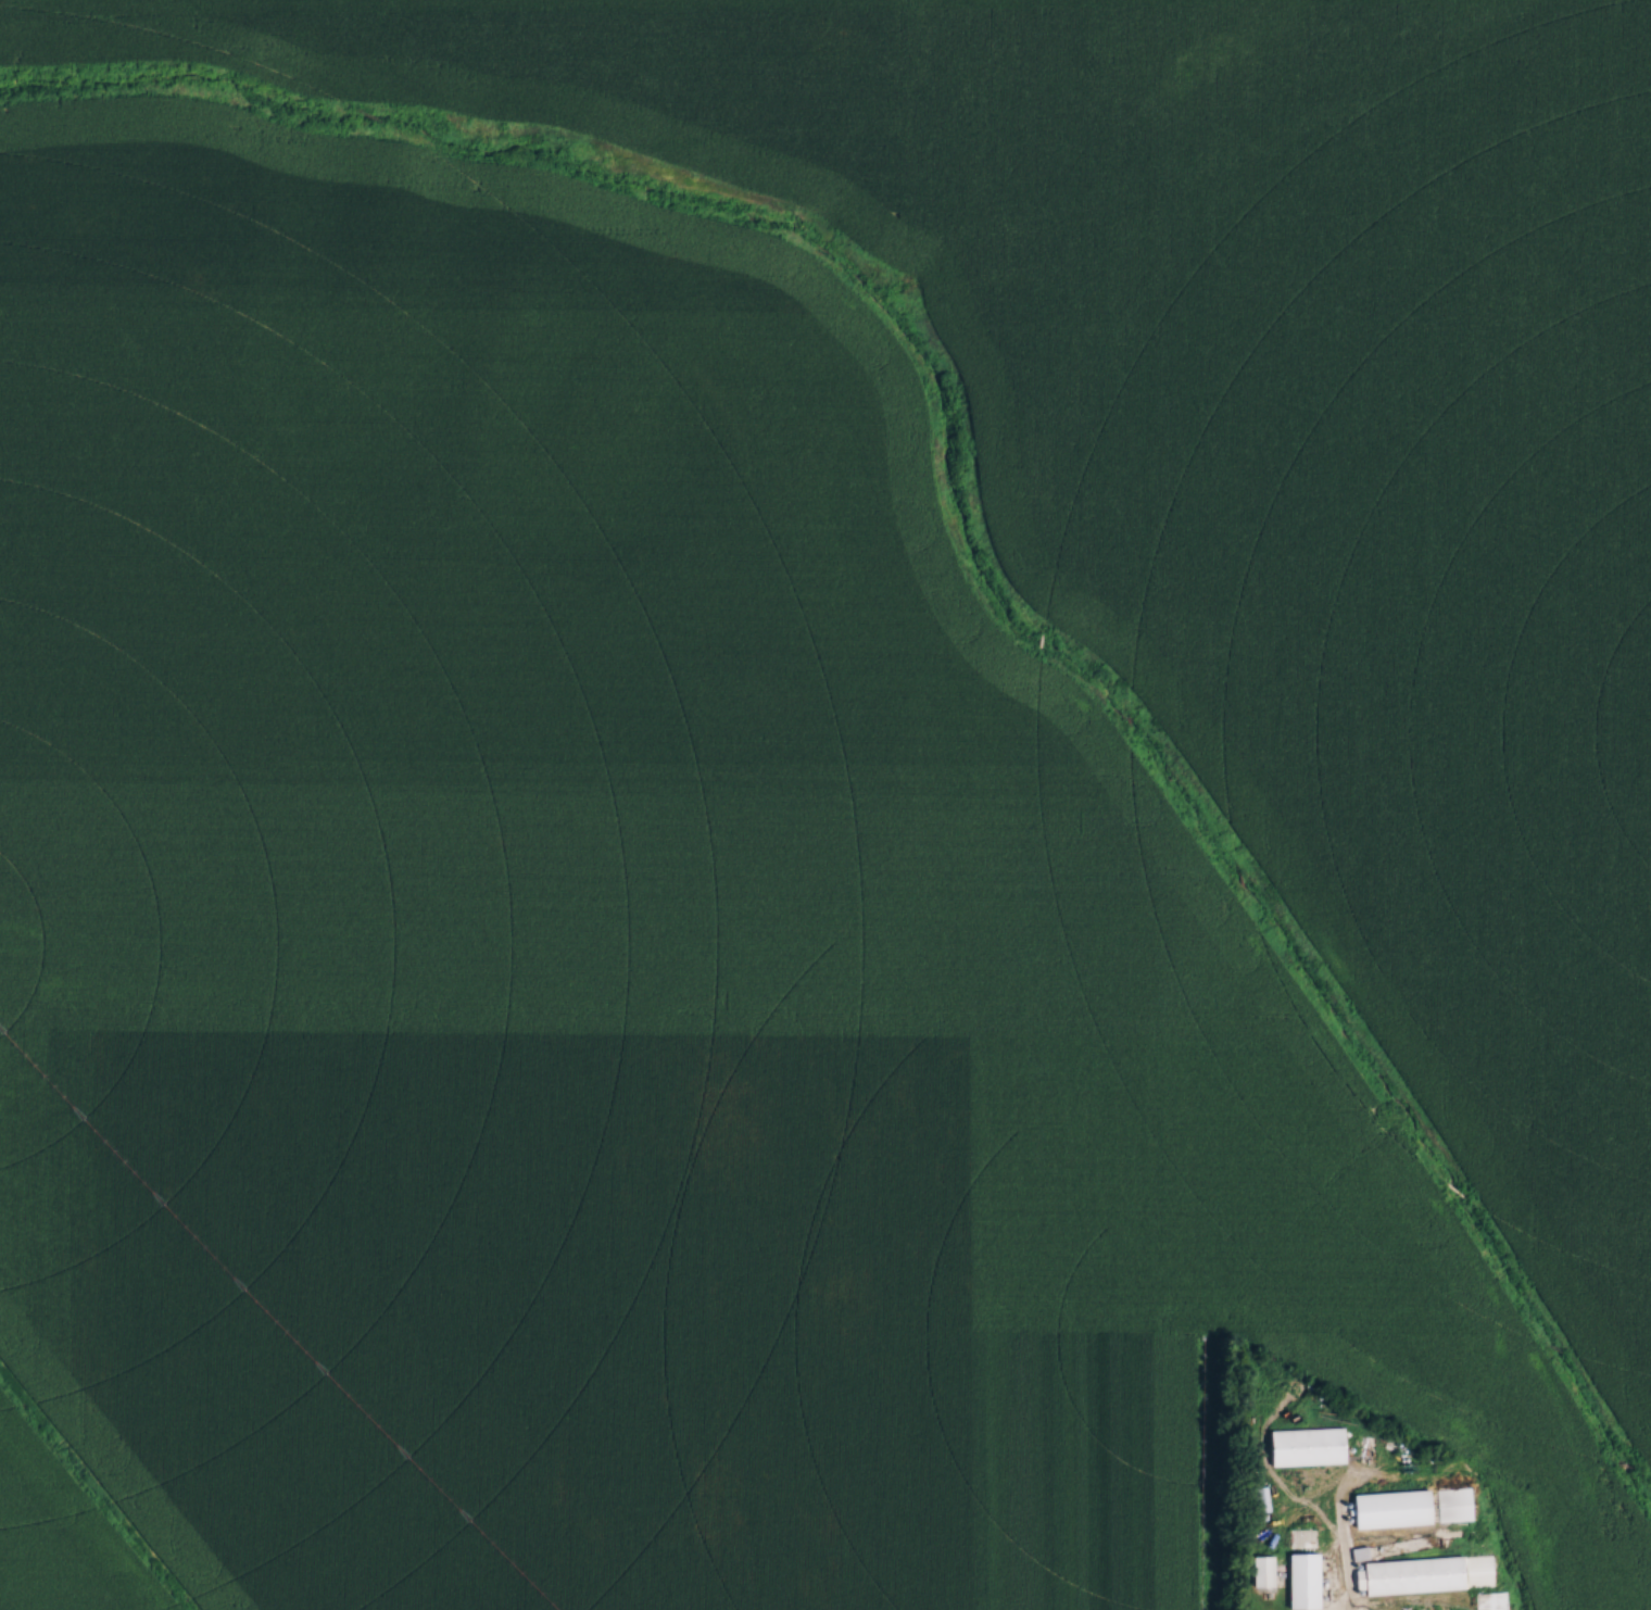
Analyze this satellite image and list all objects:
building: (1320, 1448)
building: (1439, 1488)
building: (1407, 1509)
building: (1357, 1513)
building: (1399, 1529)
building: (1428, 1578)
building: (1313, 1582)

